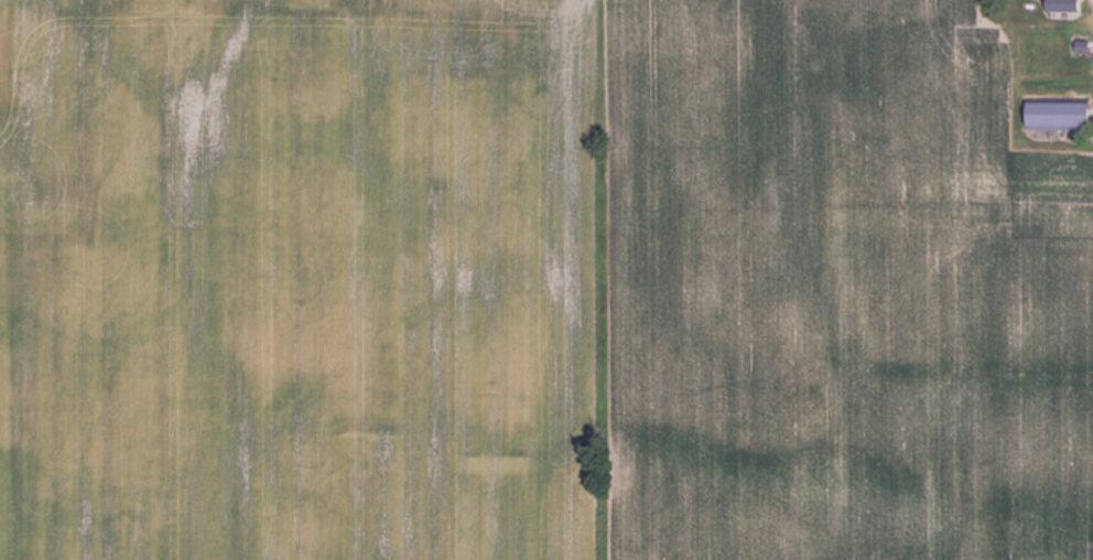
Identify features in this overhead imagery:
road: (1087, 37)

